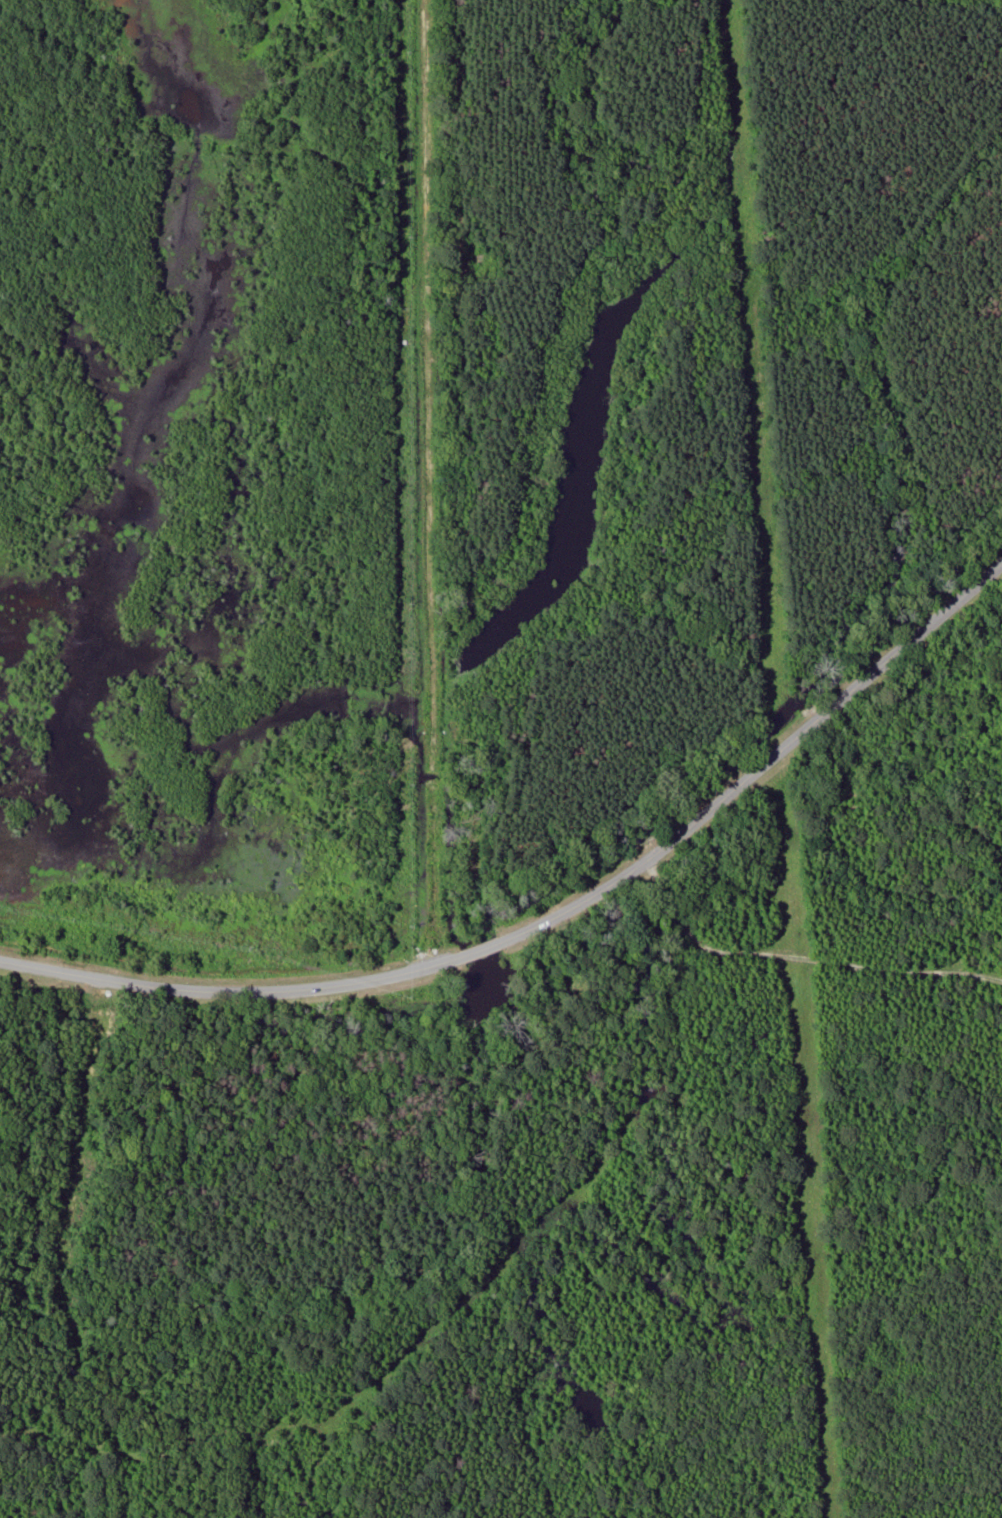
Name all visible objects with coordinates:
road: (417, 482)
road: (555, 914)

